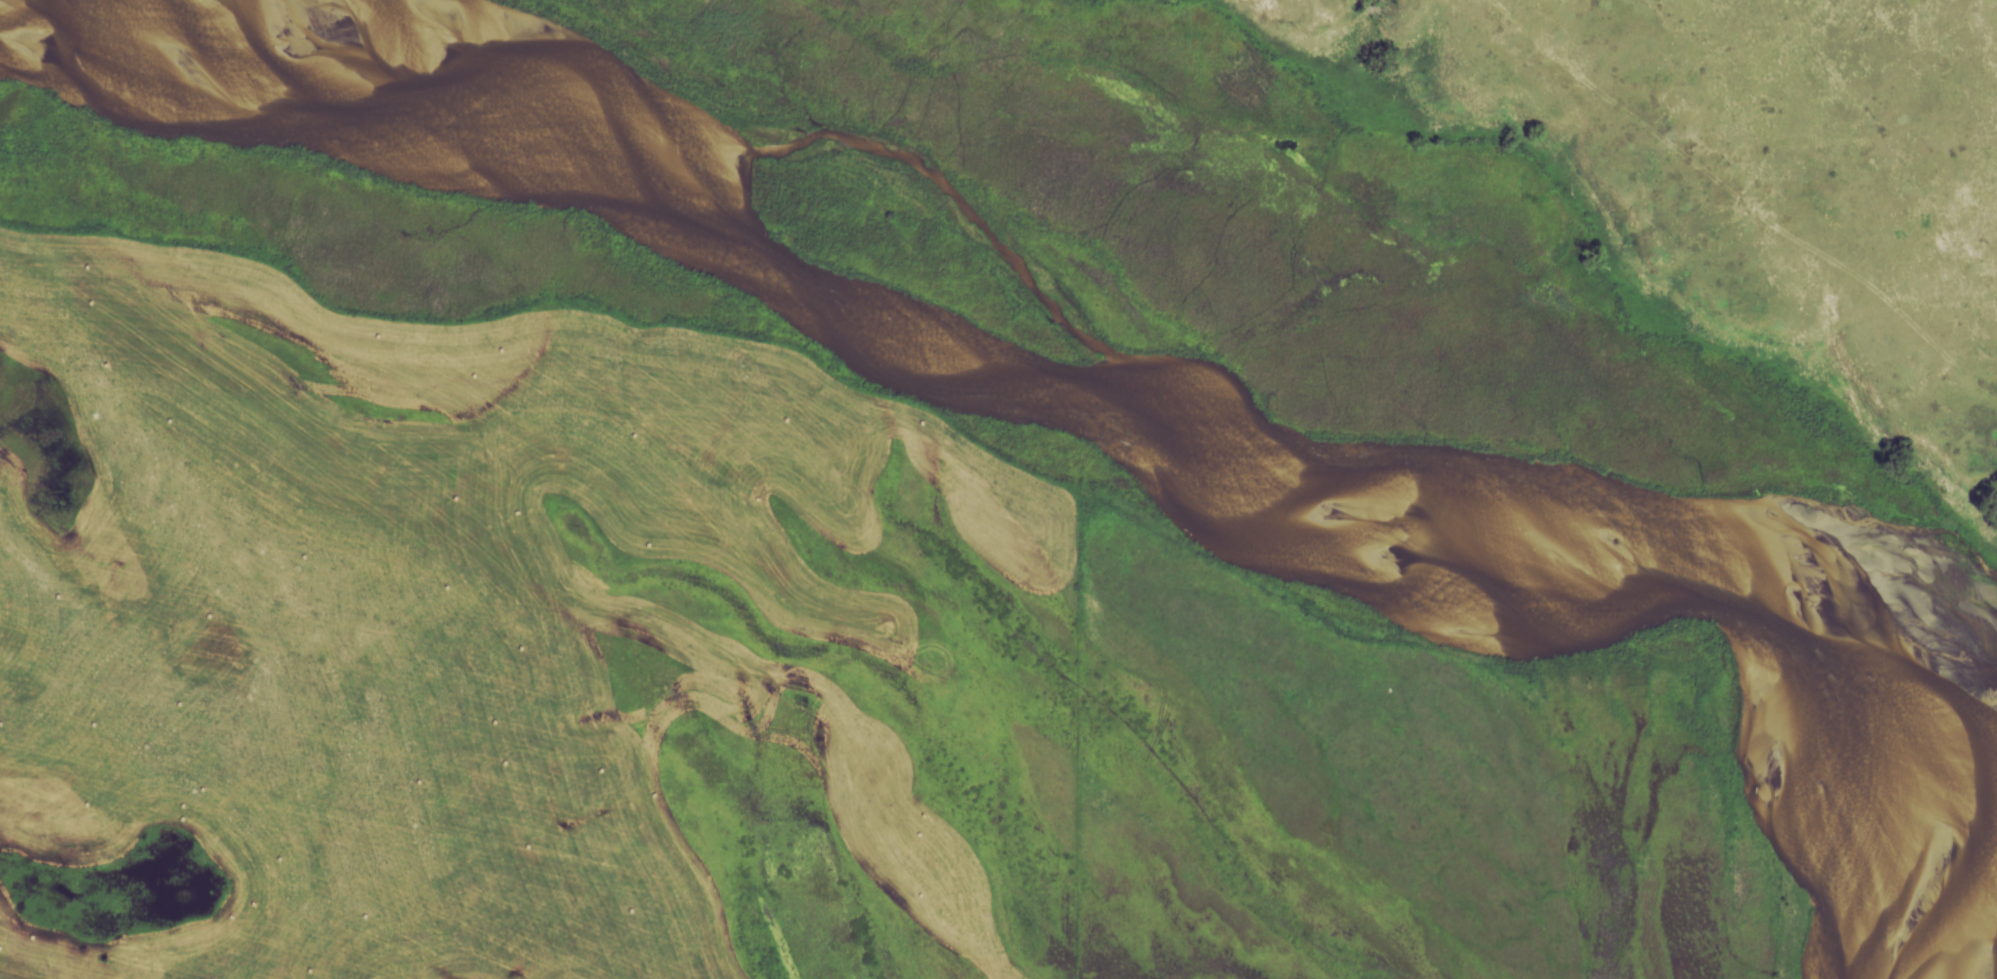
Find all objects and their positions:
river: (1130, 418)

